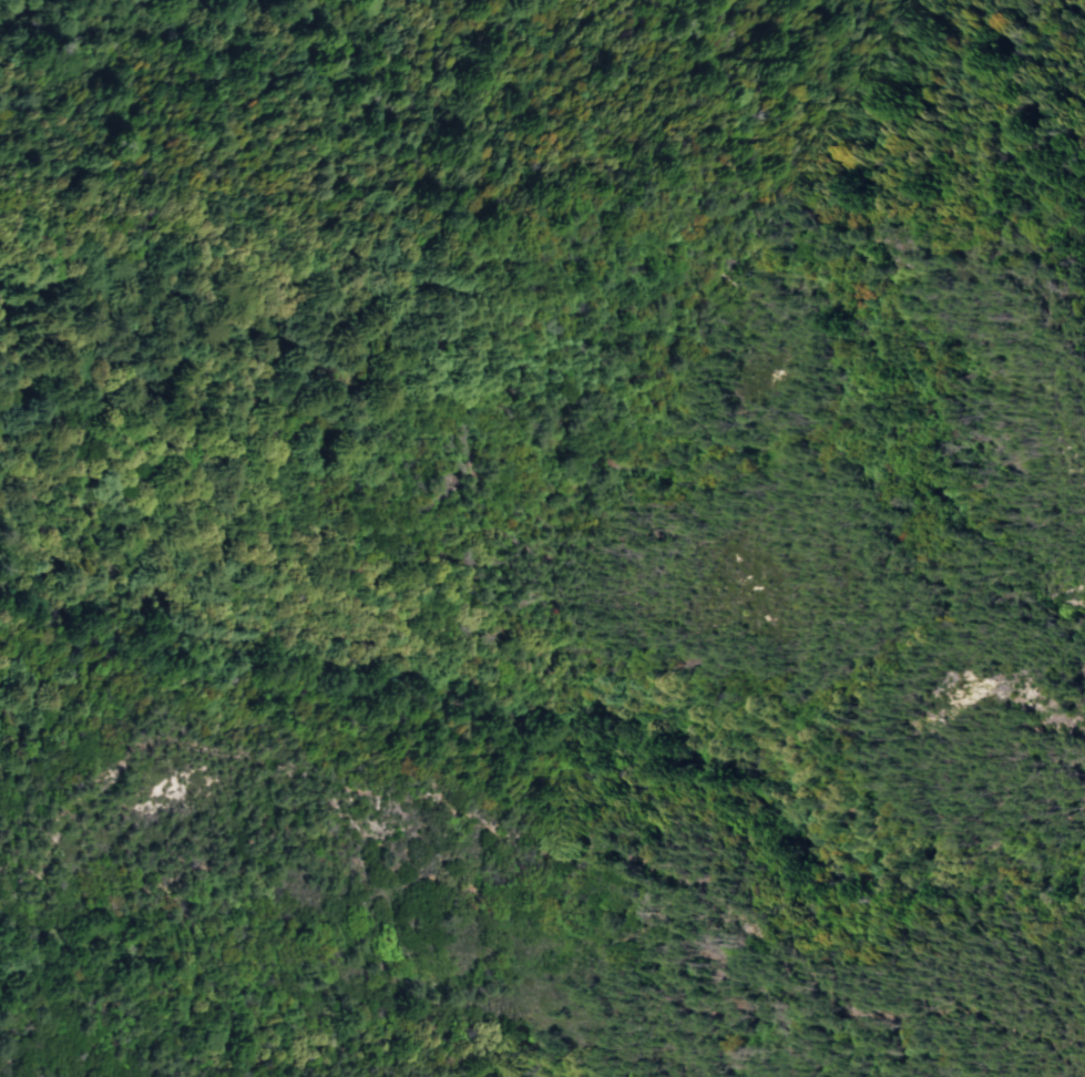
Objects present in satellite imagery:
road: (547, 855)

